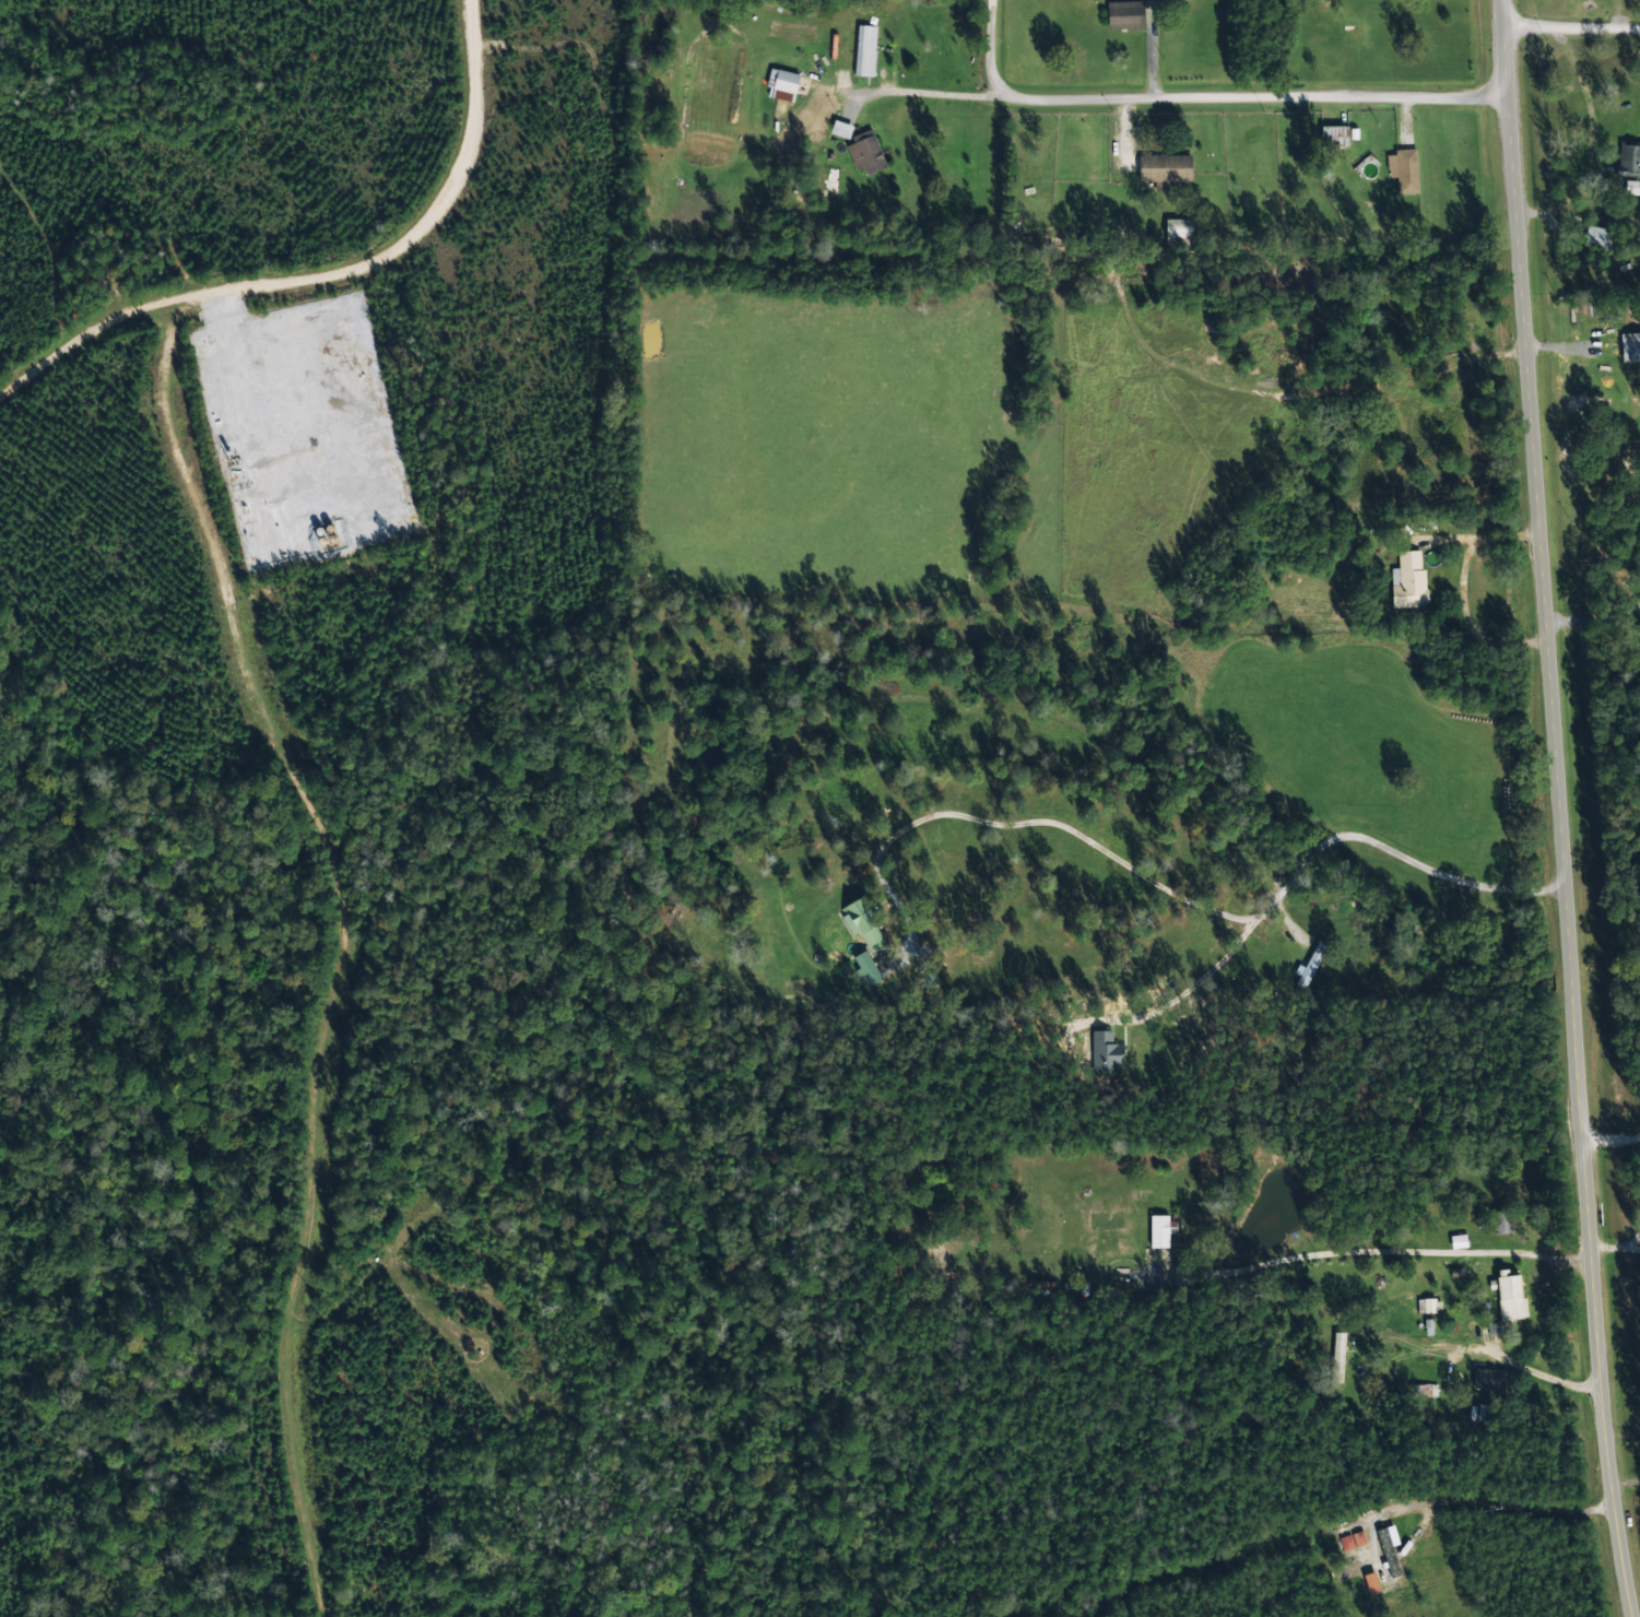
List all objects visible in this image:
building: (1123, 16)
road: (1569, 26)
building: (864, 51)
road: (1240, 57)
building: (782, 86)
building: (839, 131)
building: (1332, 138)
building: (866, 153)
building: (1628, 160)
building: (1163, 169)
building: (1402, 172)
building: (1593, 238)
road: (314, 281)
building: (1629, 347)
building: (346, 352)
building: (1407, 581)
road: (1554, 810)
building: (862, 926)
building: (1310, 966)
building: (863, 970)
building: (797, 995)
road: (1610, 1144)
building: (1499, 1221)
building: (1158, 1232)
building: (1456, 1241)
building: (1508, 1299)
building: (1427, 1306)
building: (1336, 1358)
building: (1486, 1380)
building: (1418, 1392)
building: (1385, 1553)
building: (1369, 1584)

